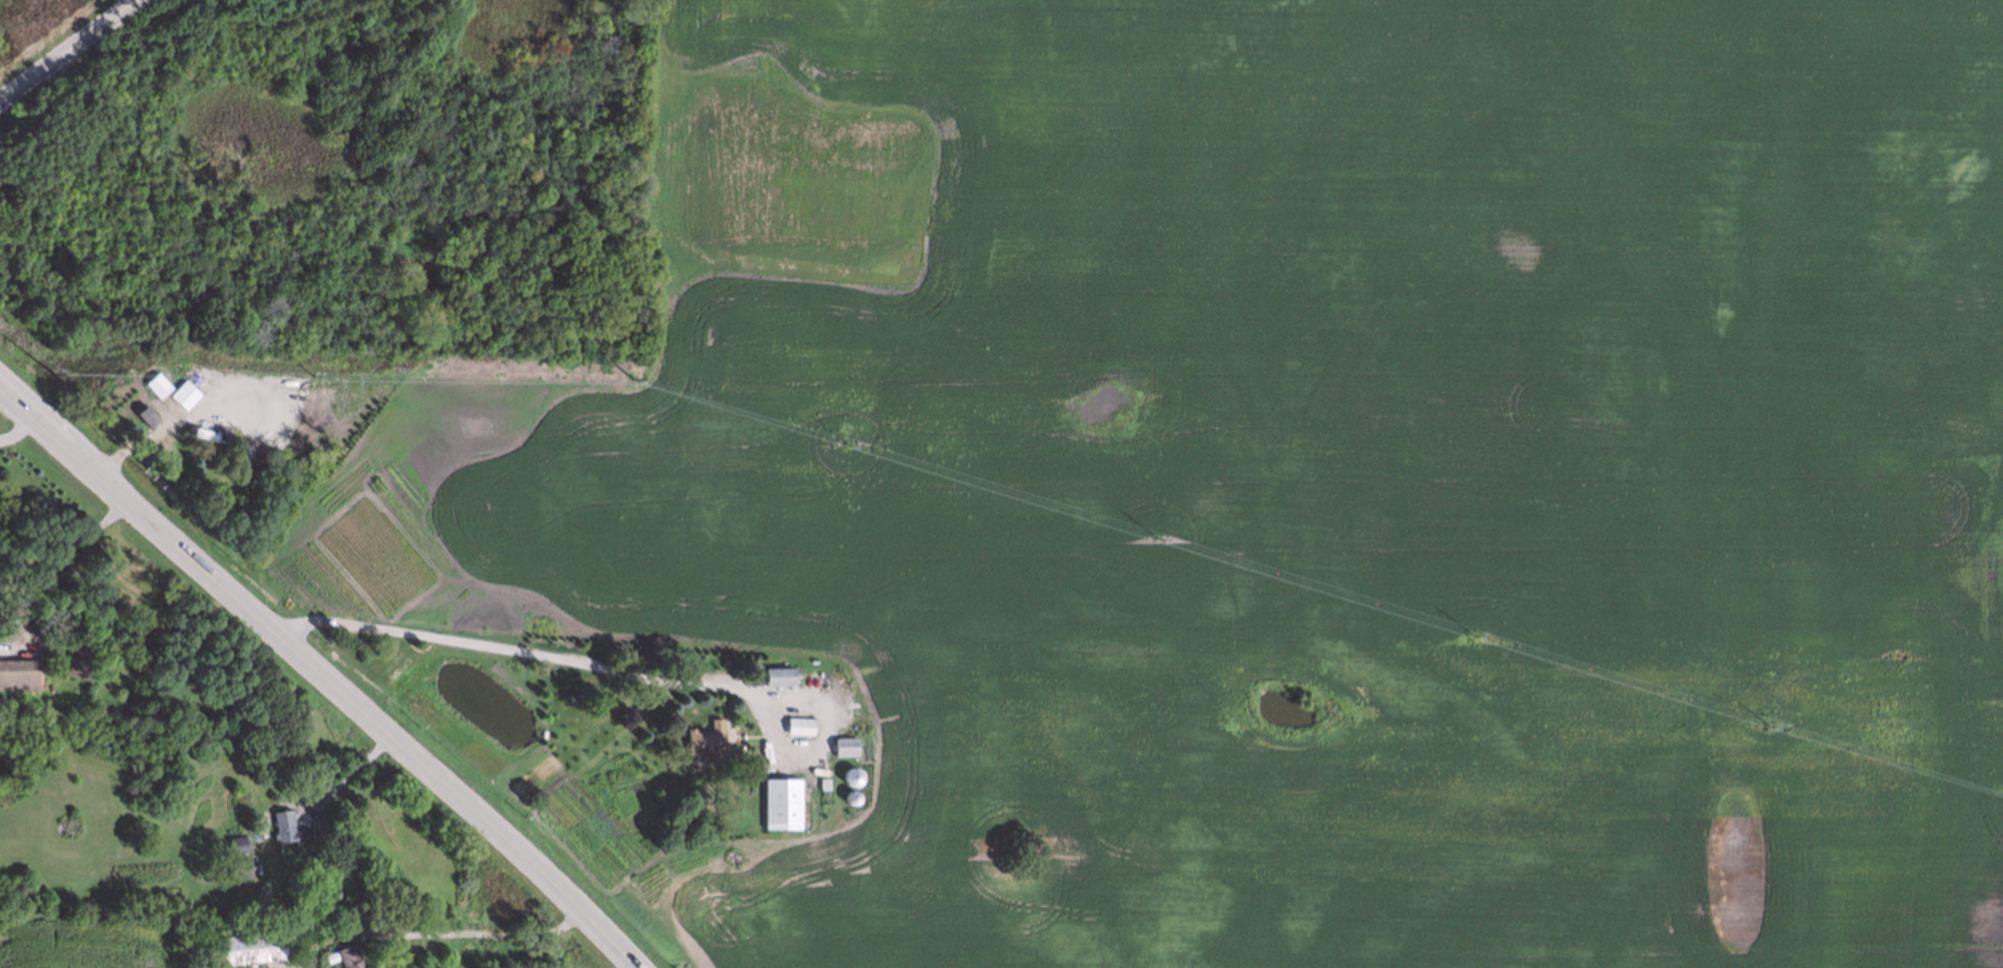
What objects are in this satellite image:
road: (68, 50)
power tower: (52, 373)
power tower: (635, 380)
building: (157, 387)
building: (185, 397)
building: (145, 419)
road: (17, 435)
building: (208, 437)
road: (48, 565)
road: (519, 651)
building: (76, 661)
building: (814, 669)
building: (20, 678)
building: (780, 678)
road: (322, 681)
building: (798, 725)
building: (709, 742)
building: (847, 747)
road: (344, 776)
building: (851, 777)
building: (823, 783)
building: (822, 794)
building: (851, 798)
building: (783, 805)
building: (288, 830)
building: (235, 843)
building: (237, 867)
road: (493, 933)
building: (253, 949)
building: (347, 956)

